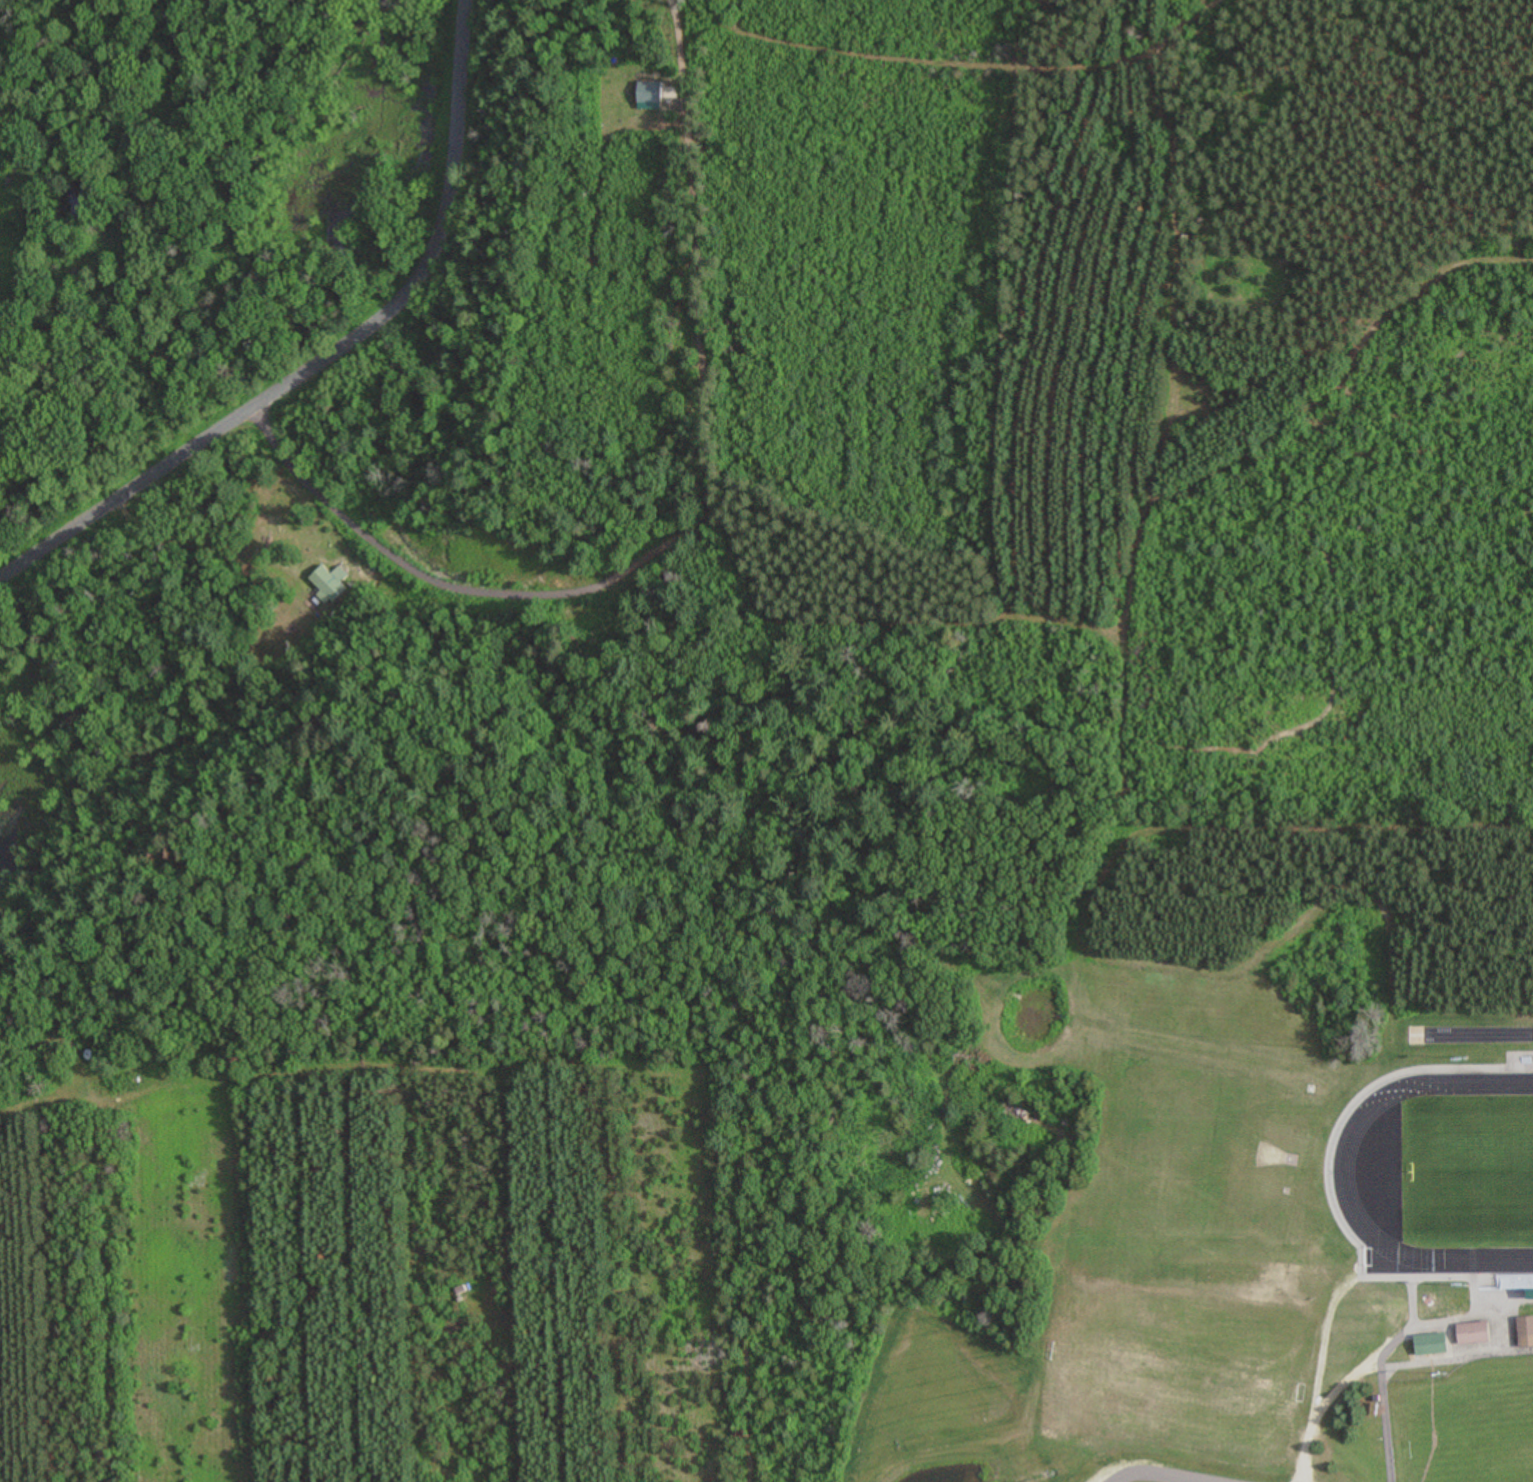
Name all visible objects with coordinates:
road: (340, 353)
road: (694, 525)
building: (262, 535)
building: (328, 584)
road: (1188, 825)
track: (1435, 1182)
park: (1461, 1184)
road: (1386, 1290)
road: (1463, 1310)
building: (1525, 1333)
building: (1473, 1334)
building: (1461, 1344)
building: (1430, 1345)
building: (1418, 1353)
building: (1510, 1364)
park: (1460, 1430)
road: (1296, 1457)
road: (1153, 1477)

